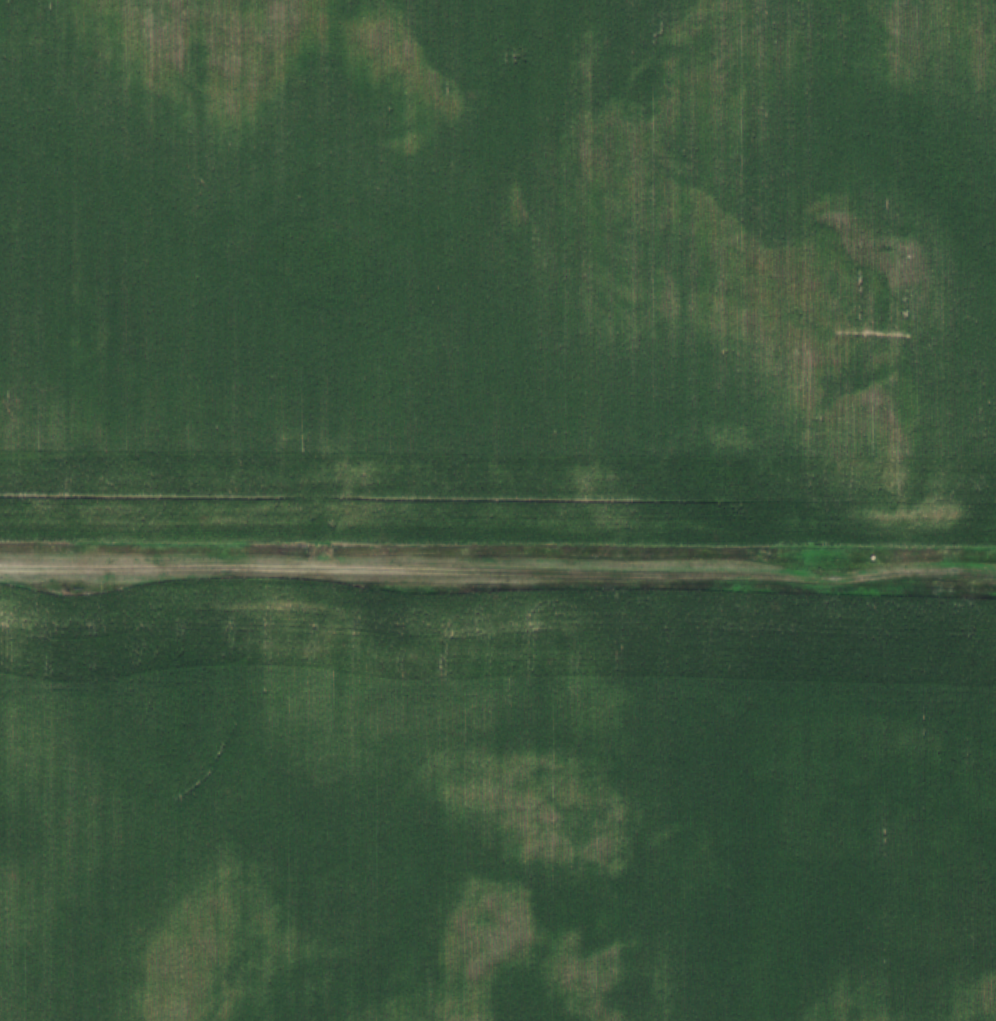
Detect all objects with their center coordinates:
crop: (499, 267)
road: (498, 565)

